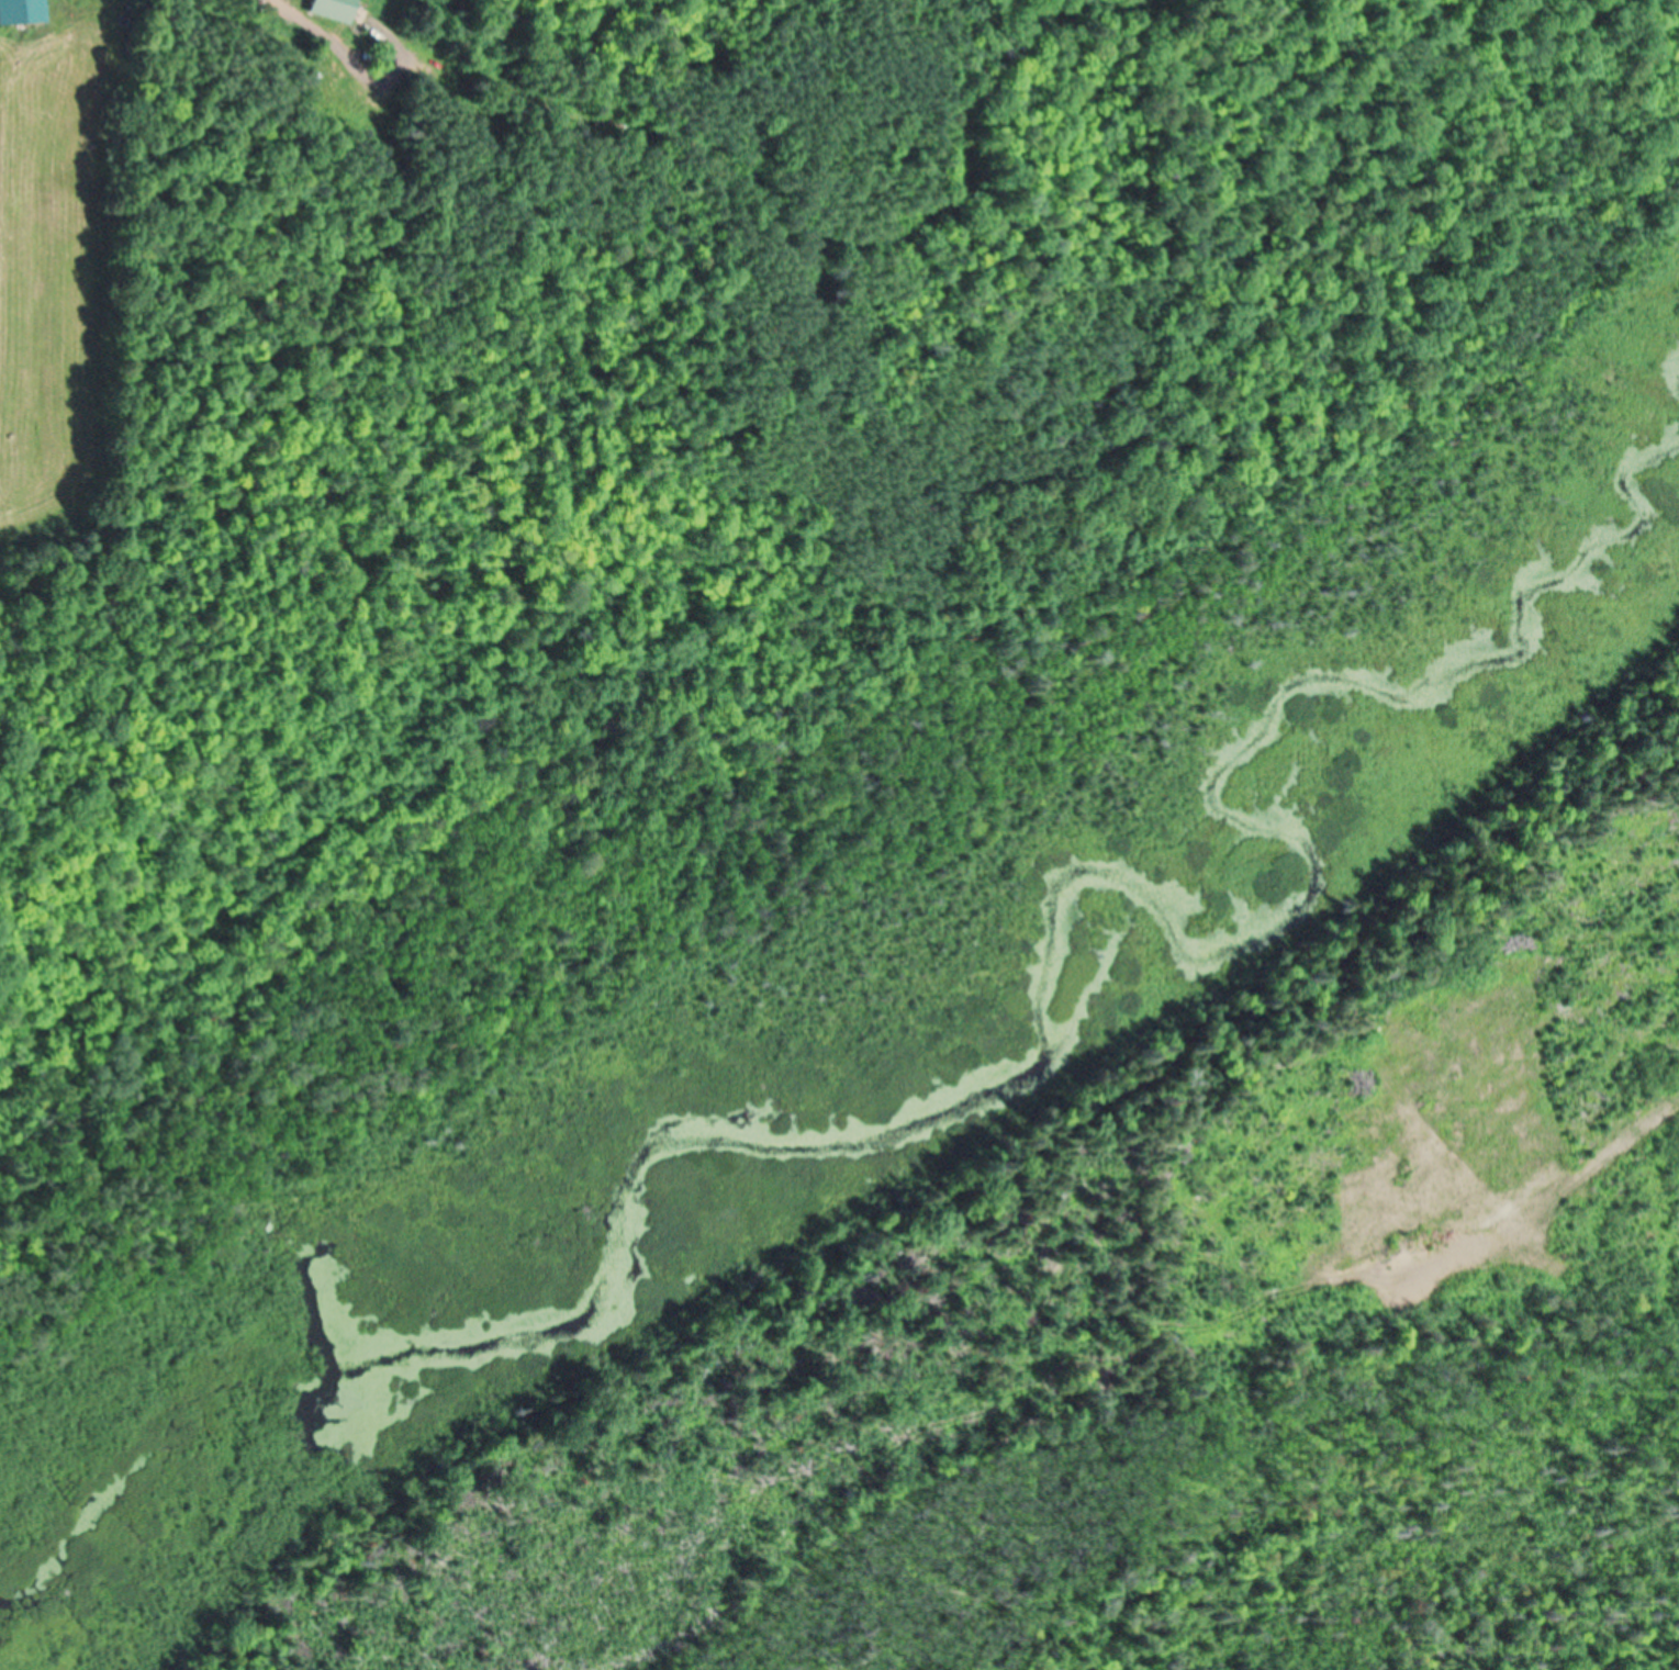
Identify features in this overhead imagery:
building: (332, 11)

